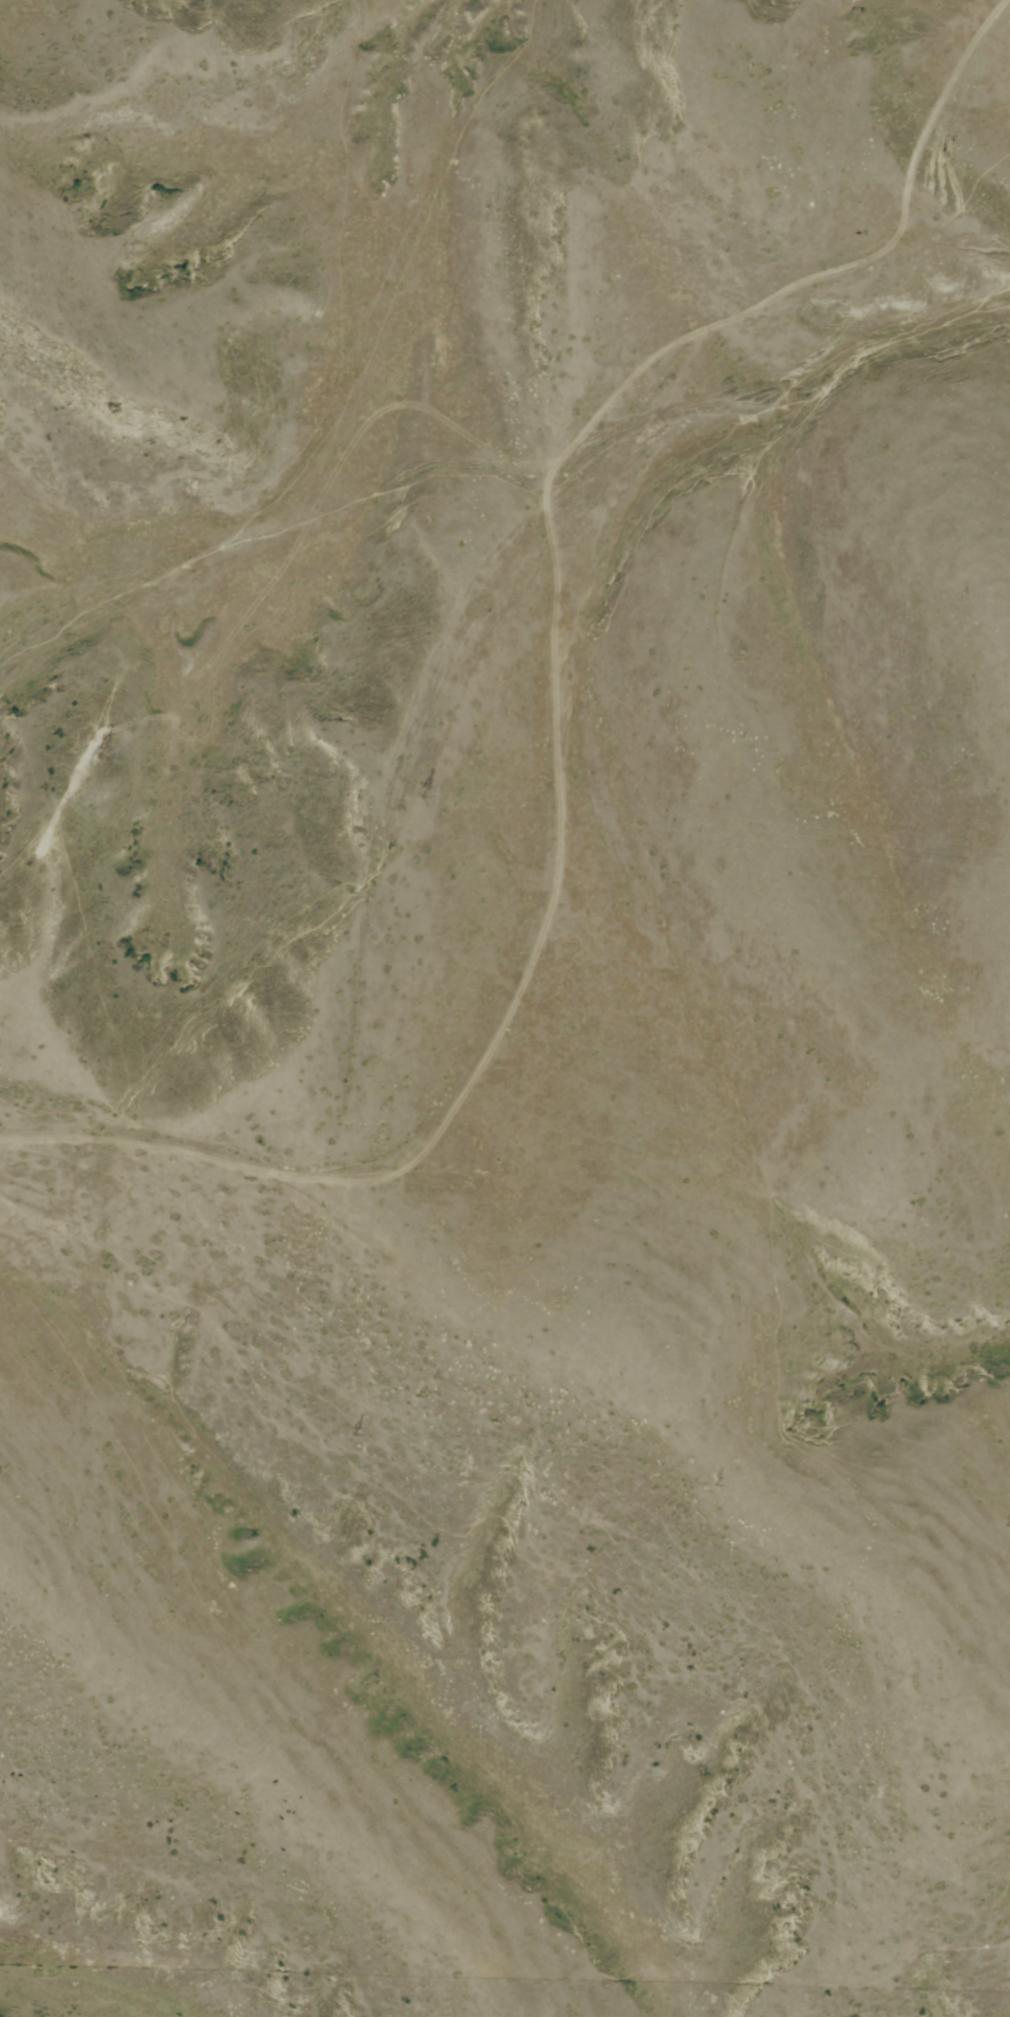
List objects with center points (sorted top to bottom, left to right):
power tower: (92, 753)
power tower: (420, 793)

